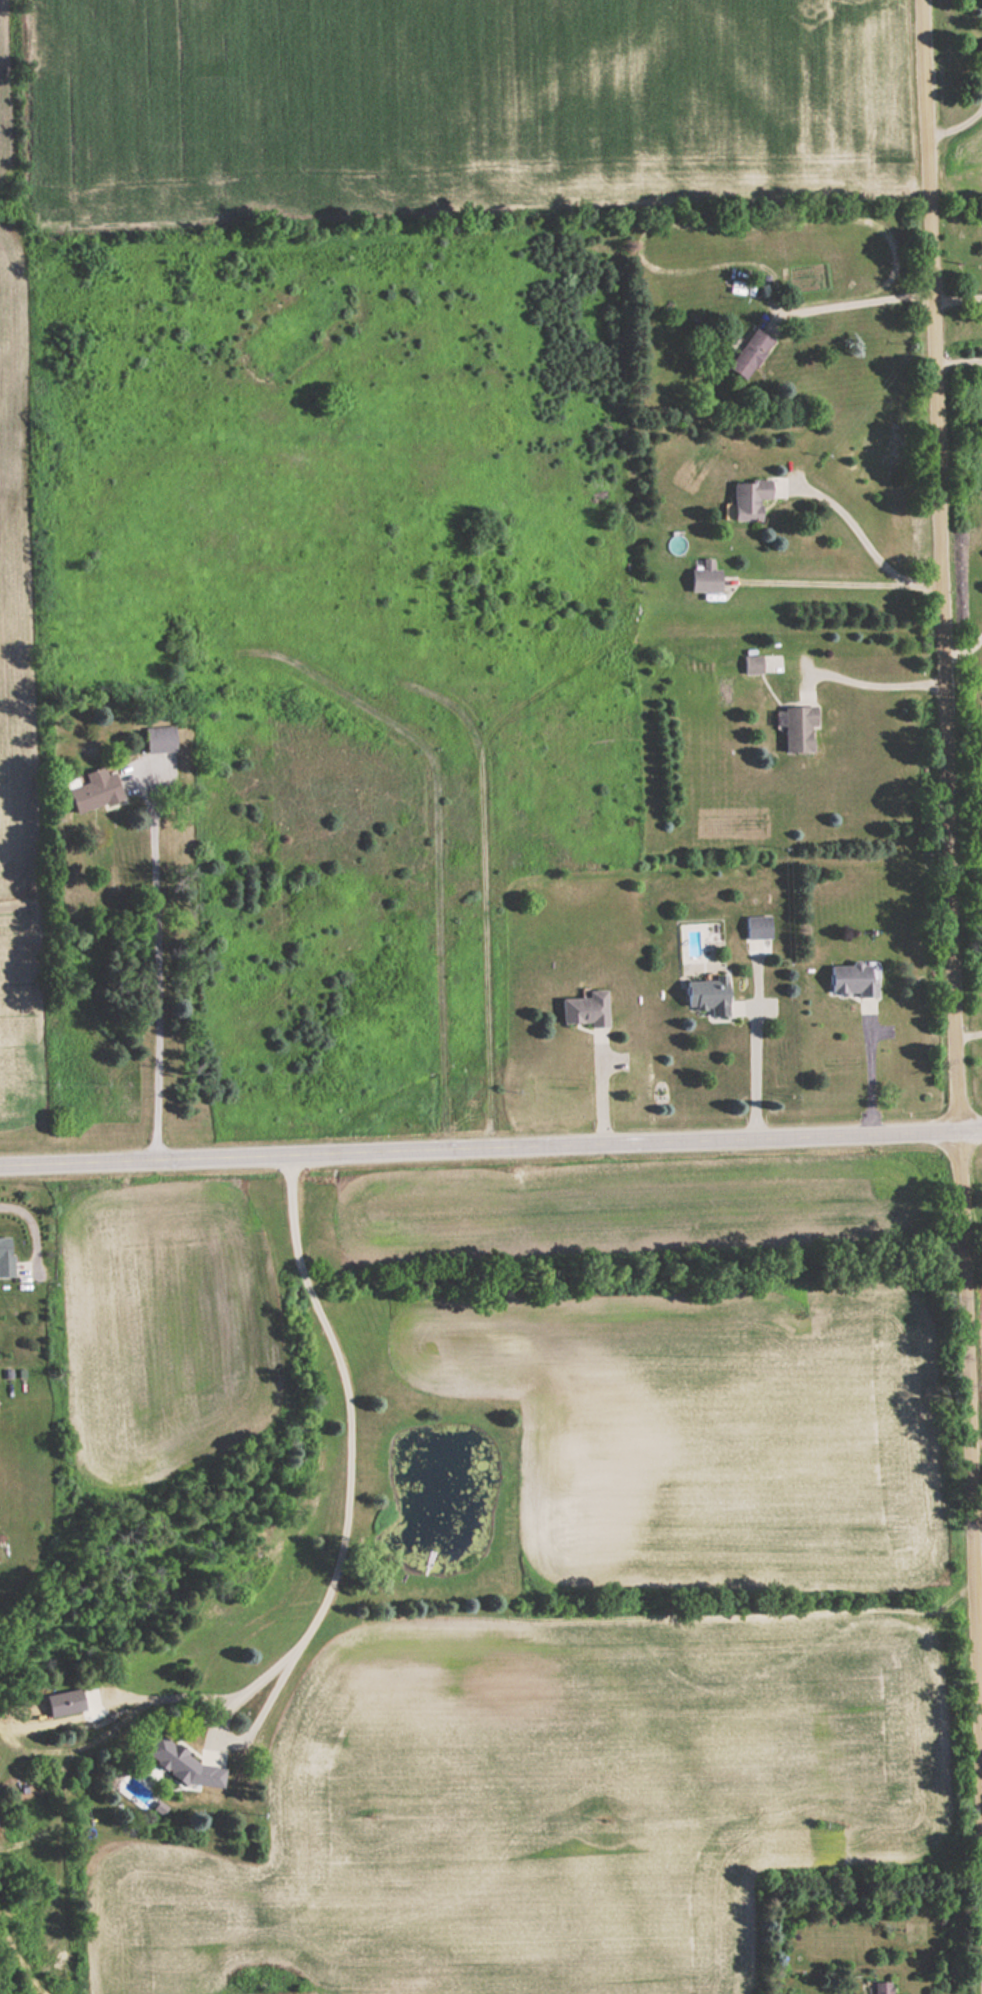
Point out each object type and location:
building: (749, 353)
building: (754, 497)
building: (706, 578)
building: (753, 664)
building: (799, 728)
building: (160, 739)
building: (94, 790)
building: (758, 925)
road: (951, 933)
building: (853, 977)
building: (708, 993)
building: (586, 1008)
road: (490, 1142)
building: (6, 1256)
building: (30, 1701)
building: (64, 1702)
building: (169, 1756)
building: (882, 1988)

